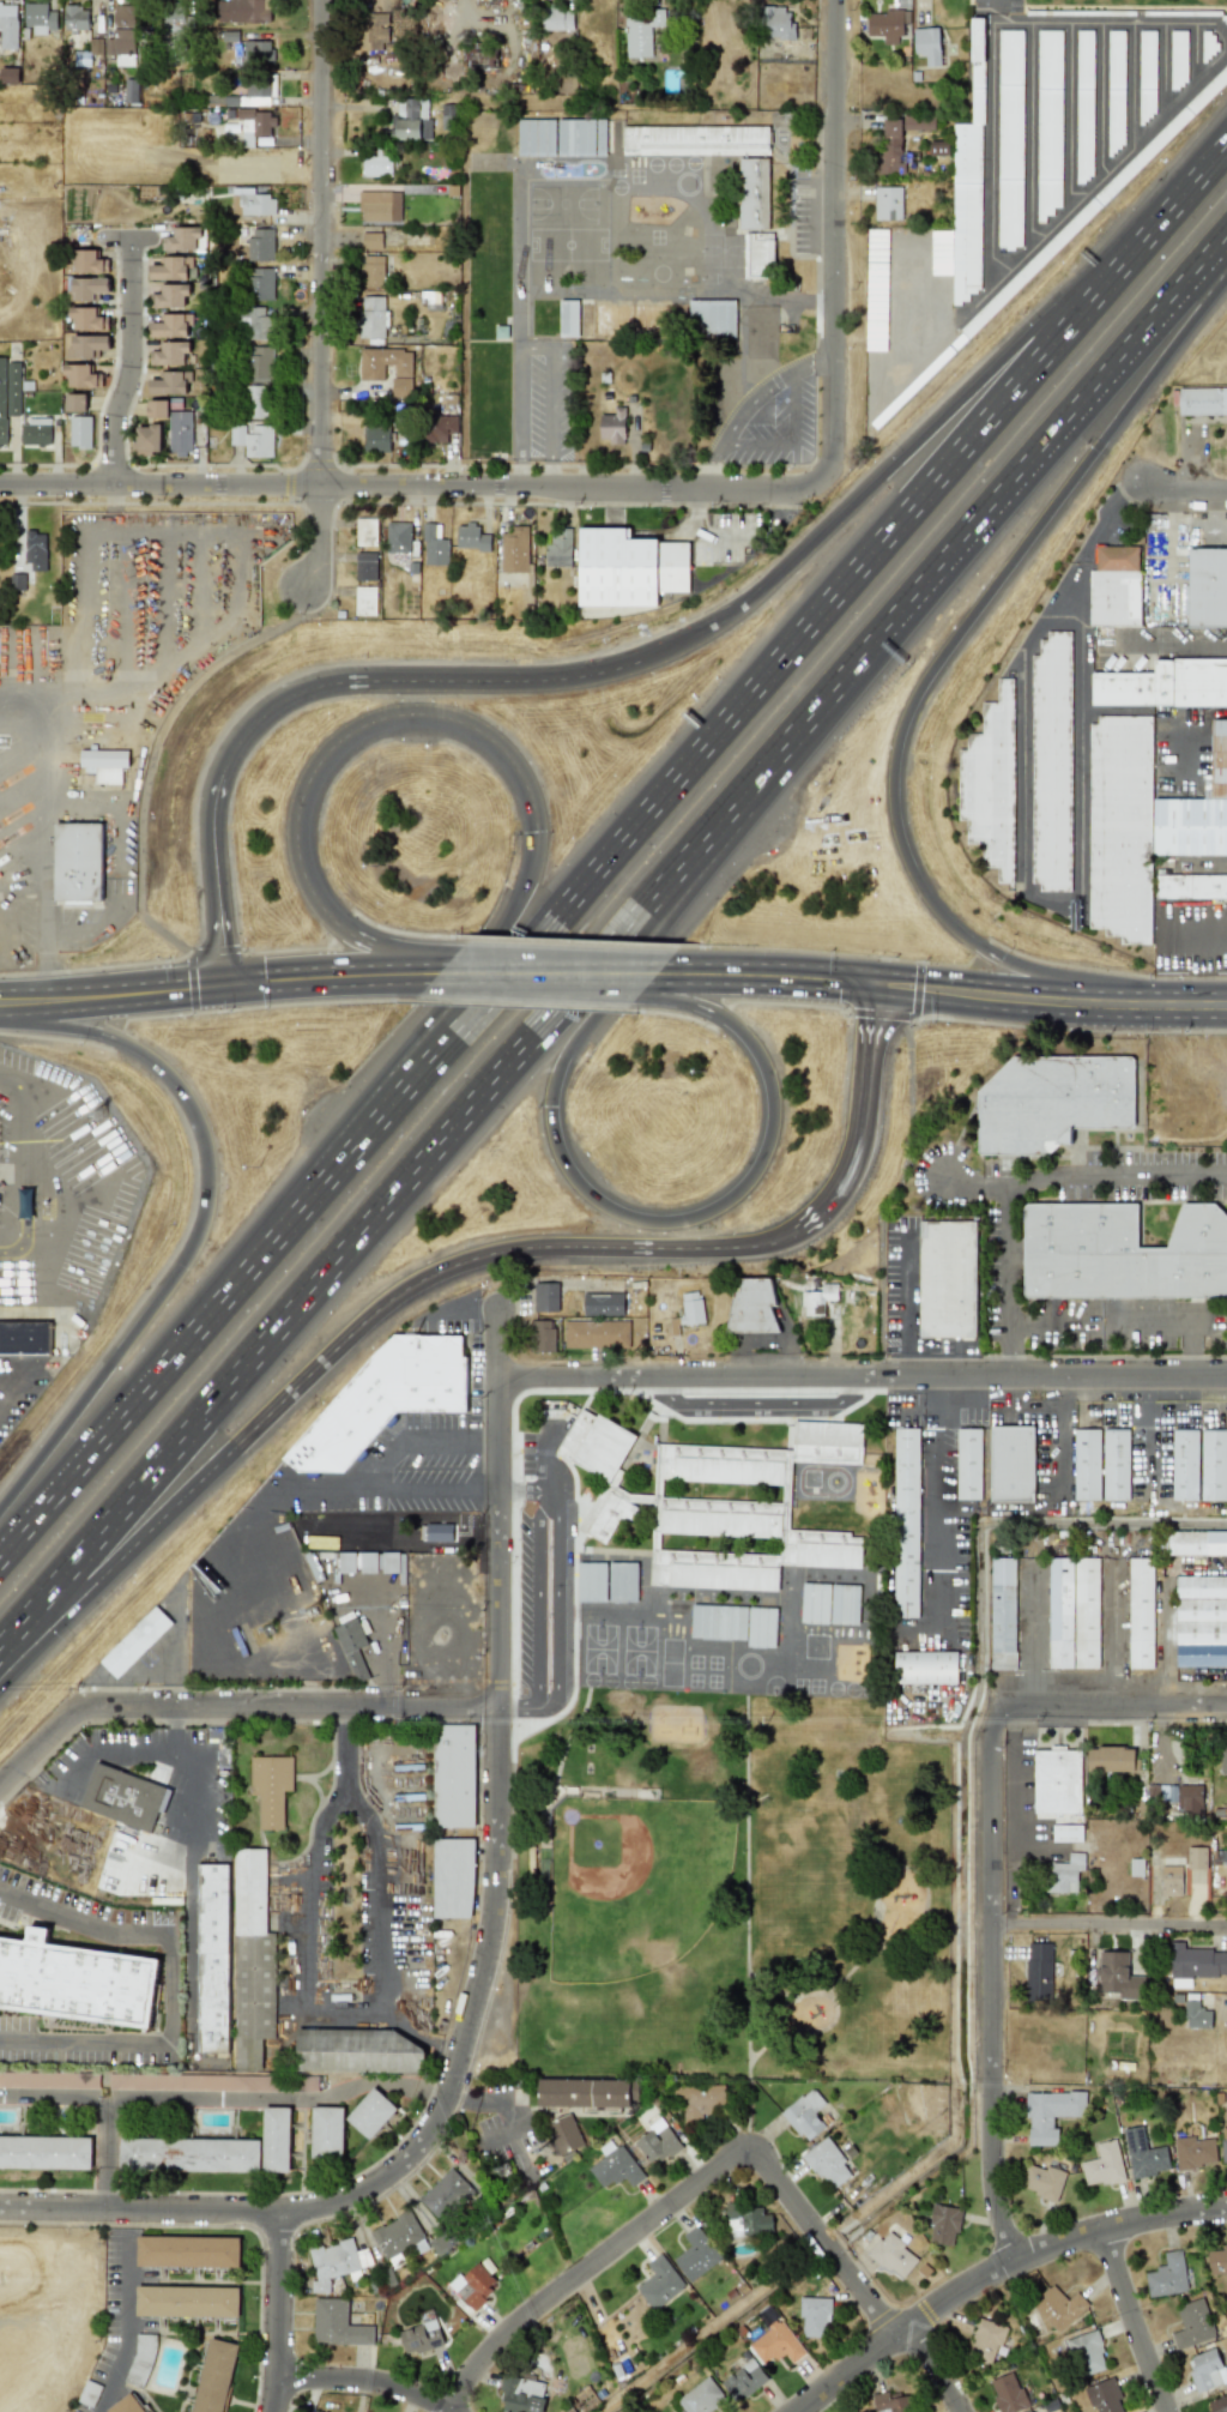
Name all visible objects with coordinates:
building: (243, 11)
building: (40, 17)
building: (171, 17)
building: (75, 18)
building: (557, 18)
building: (779, 22)
building: (887, 24)
building: (8, 25)
building: (373, 31)
road: (987, 34)
building: (121, 35)
building: (642, 35)
road: (1226, 42)
building: (926, 46)
building: (259, 50)
road: (1197, 55)
road: (1163, 71)
building: (10, 74)
road: (1134, 84)
building: (131, 90)
building: (259, 90)
road: (1101, 100)
building: (1083, 105)
building: (448, 115)
road: (1066, 116)
building: (412, 120)
building: (1047, 121)
building: (918, 122)
building: (254, 125)
road: (1030, 133)
building: (562, 137)
building: (1009, 139)
building: (695, 140)
building: (890, 146)
building: (377, 163)
road: (1105, 171)
building: (967, 183)
building: (754, 192)
building: (887, 203)
building: (256, 204)
building: (379, 205)
road: (126, 237)
building: (183, 239)
building: (371, 240)
road: (835, 240)
building: (260, 243)
building: (760, 257)
building: (86, 261)
building: (171, 269)
building: (373, 271)
building: (262, 283)
building: (86, 288)
road: (320, 294)
building: (170, 296)
building: (373, 316)
building: (568, 318)
building: (631, 318)
building: (712, 318)
building: (86, 319)
building: (255, 321)
building: (171, 325)
road: (534, 345)
building: (87, 346)
building: (169, 354)
road: (131, 361)
building: (260, 362)
road: (814, 364)
building: (387, 369)
building: (80, 375)
building: (171, 382)
building: (8, 393)
road: (750, 400)
building: (77, 402)
building: (258, 402)
building: (1202, 402)
road: (943, 416)
building: (174, 426)
building: (611, 426)
building: (441, 428)
building: (35, 432)
building: (80, 432)
building: (145, 439)
building: (254, 439)
building: (377, 439)
road: (792, 442)
road: (713, 465)
road: (518, 471)
road: (548, 471)
road: (412, 486)
road: (1189, 488)
building: (365, 532)
building: (398, 537)
building: (471, 537)
building: (434, 545)
building: (36, 547)
building: (558, 548)
building: (514, 550)
building: (367, 566)
building: (629, 568)
building: (1114, 586)
building: (1205, 586)
building: (365, 599)
road: (1155, 643)
road: (938, 667)
road: (411, 681)
building: (1165, 683)
road: (1111, 712)
road: (44, 725)
road: (1183, 729)
road: (349, 736)
building: (1220, 759)
building: (1051, 762)
building: (105, 765)
building: (990, 784)
building: (1191, 826)
building: (1120, 827)
road: (617, 852)
road: (1021, 857)
building: (78, 861)
road: (218, 878)
building: (1191, 886)
road: (20, 891)
road: (609, 939)
road: (1192, 939)
road: (404, 959)
road: (546, 972)
road: (219, 983)
traffic signals: (228, 983)
traffic signals: (872, 983)
road: (899, 985)
road: (1185, 1005)
road: (429, 1013)
road: (880, 1013)
building: (1052, 1102)
power tower: (103, 1116)
road: (858, 1126)
road: (23, 1145)
road: (908, 1172)
road: (573, 1176)
road: (1026, 1180)
road: (979, 1182)
road: (201, 1230)
road: (26, 1232)
building: (1120, 1253)
road: (49, 1274)
building: (947, 1279)
building: (545, 1296)
building: (817, 1300)
building: (602, 1303)
building: (751, 1306)
building: (690, 1308)
road: (23, 1315)
road: (1132, 1321)
building: (596, 1334)
building: (543, 1335)
building: (25, 1338)
road: (337, 1343)
road: (862, 1377)
building: (385, 1398)
road: (955, 1403)
road: (1027, 1403)
road: (1148, 1430)
road: (1056, 1436)
road: (486, 1440)
road: (539, 1458)
building: (968, 1464)
building: (1011, 1464)
building: (1086, 1464)
building: (1114, 1464)
building: (1213, 1464)
building: (1184, 1465)
building: (599, 1469)
road: (371, 1471)
road: (516, 1489)
road: (488, 1490)
road: (419, 1491)
road: (931, 1510)
building: (743, 1512)
building: (905, 1522)
building: (437, 1532)
building: (1197, 1543)
building: (346, 1562)
building: (381, 1562)
building: (591, 1581)
building: (622, 1581)
road: (537, 1597)
road: (555, 1602)
power tower: (316, 1611)
building: (1002, 1612)
building: (1072, 1612)
building: (1140, 1614)
building: (1201, 1621)
building: (718, 1622)
road: (1027, 1635)
road: (1112, 1635)
road: (1166, 1640)
building: (135, 1641)
building: (351, 1646)
road: (175, 1652)
building: (925, 1666)
road: (156, 1670)
road: (516, 1705)
road: (286, 1707)
road: (1117, 1709)
road: (344, 1714)
road: (174, 1730)
road: (213, 1731)
road: (37, 1743)
road: (99, 1751)
building: (1111, 1759)
building: (1222, 1760)
building: (453, 1775)
building: (1056, 1781)
building: (270, 1787)
building: (1167, 1793)
building: (1190, 1796)
building: (123, 1797)
road: (212, 1807)
road: (1015, 1816)
building: (1066, 1832)
road: (1029, 1837)
building: (1196, 1857)
building: (1136, 1867)
building: (1065, 1873)
building: (452, 1877)
building: (1171, 1880)
park: (733, 1893)
road: (389, 1898)
road: (744, 1912)
road: (1110, 1926)
road: (295, 1936)
road: (899, 1936)
road: (189, 1937)
road: (490, 1955)
building: (212, 1958)
building: (252, 1960)
building: (1195, 1964)
building: (1039, 1971)
building: (1118, 1976)
building: (75, 1980)
road: (170, 1983)
road: (993, 1983)
road: (1219, 2003)
building: (1196, 2015)
road: (828, 2024)
road: (451, 2049)
building: (359, 2051)
building: (49, 2079)
building: (191, 2081)
building: (582, 2092)
road: (280, 2098)
road: (104, 2102)
road: (488, 2102)
building: (702, 2102)
building: (369, 2112)
building: (804, 2113)
building: (1050, 2113)
building: (326, 2131)
building: (563, 2134)
building: (274, 2139)
building: (655, 2142)
building: (1223, 2145)
building: (44, 2152)
power tower: (550, 2152)
building: (1195, 2152)
building: (188, 2154)
building: (1143, 2154)
building: (827, 2163)
road: (723, 2164)
building: (1102, 2165)
building: (615, 2167)
building: (1042, 2181)
building: (445, 2195)
road: (73, 2215)
building: (747, 2219)
building: (943, 2224)
building: (397, 2236)
road: (61, 2244)
road: (84, 2245)
building: (187, 2251)
building: (695, 2255)
building: (893, 2255)
building: (1217, 2261)
building: (334, 2262)
road: (997, 2269)
building: (1167, 2275)
road: (72, 2280)
building: (659, 2283)
building: (471, 2287)
building: (186, 2302)
building: (1057, 2308)
road: (277, 2312)
building: (812, 2315)
road: (74, 2318)
road: (1131, 2320)
building: (1192, 2323)
building: (337, 2324)
road: (128, 2326)
building: (419, 2336)
building: (985, 2339)
building: (774, 2342)
building: (1087, 2353)
building: (1205, 2369)
building: (213, 2375)
building: (743, 2380)
road: (363, 2381)
building: (1007, 2393)
building: (520, 2394)
building: (700, 2396)
building: (1105, 2396)
building: (891, 2402)
building: (1216, 2404)
building: (126, 2405)
building: (310, 2411)

